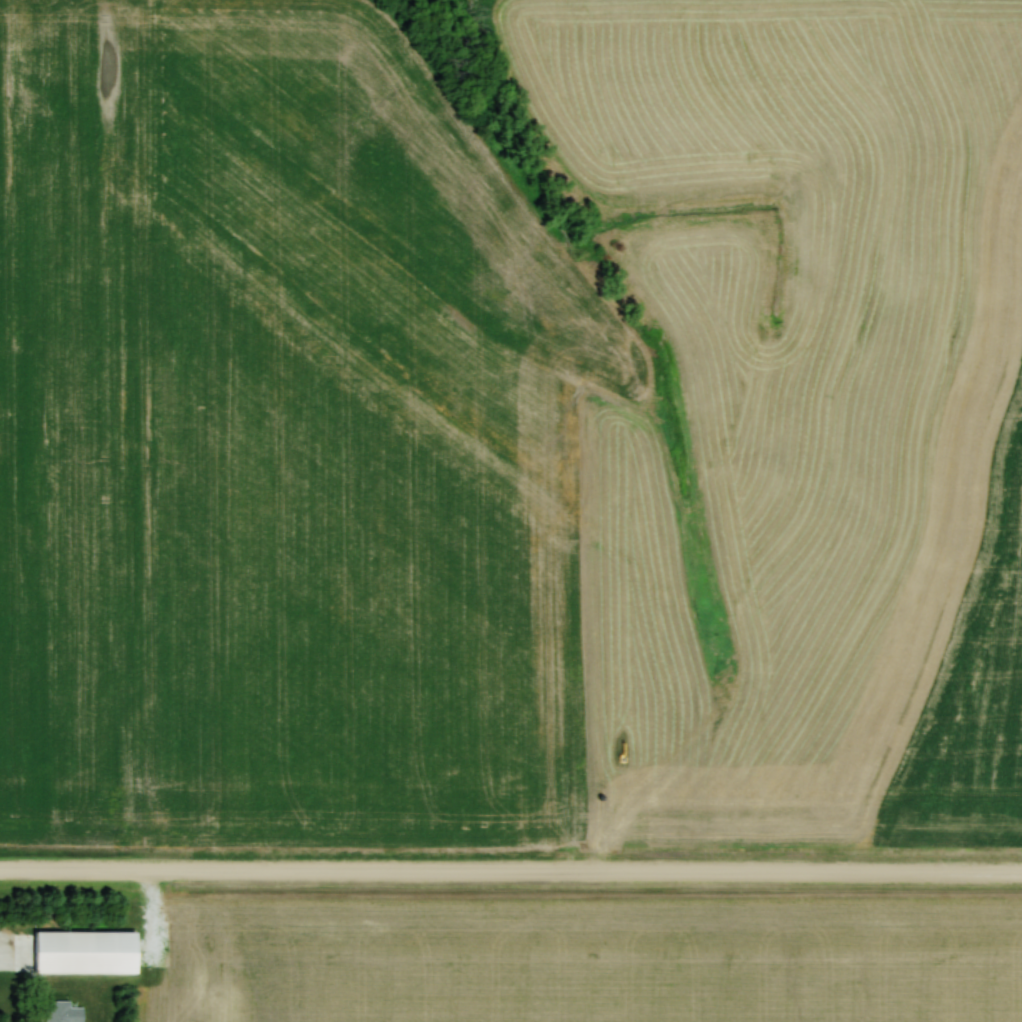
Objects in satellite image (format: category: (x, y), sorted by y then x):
road: (511, 874)
building: (86, 952)
building: (63, 1012)

